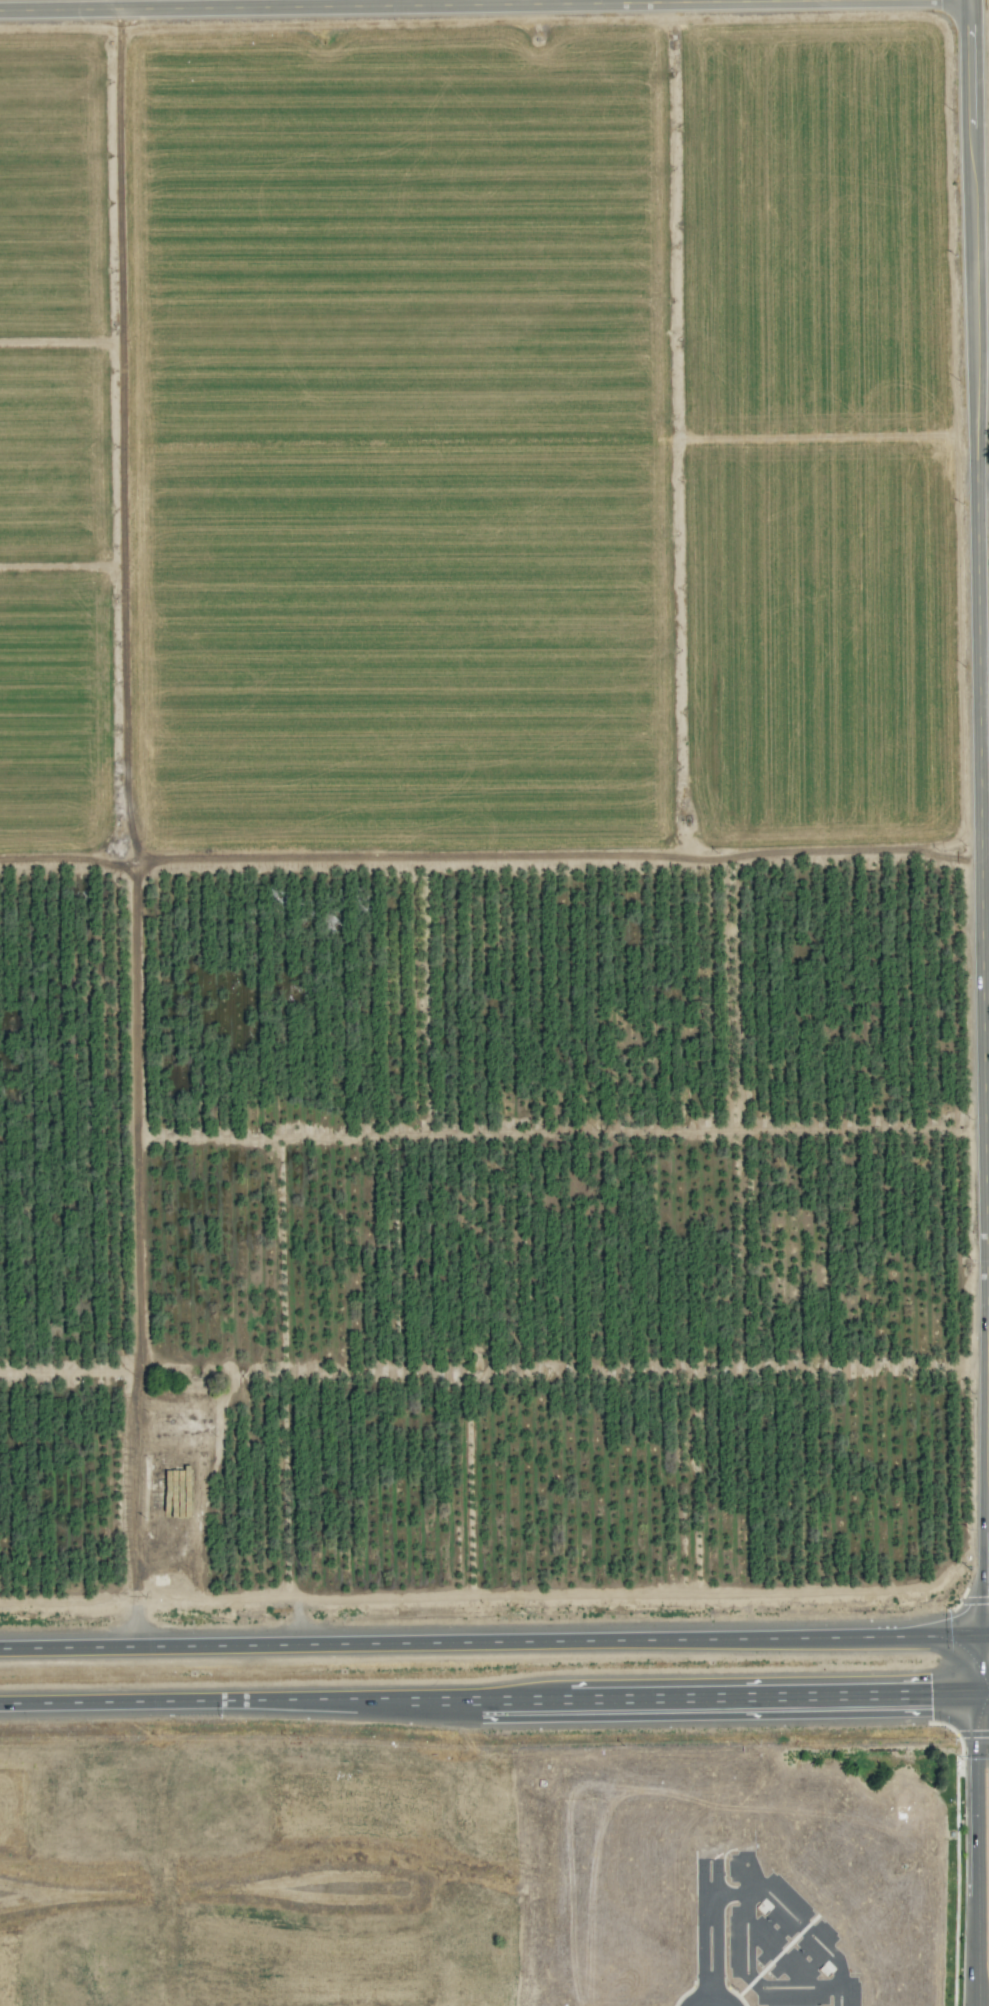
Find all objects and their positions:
road: (448, 5)
road: (985, 479)
road: (982, 520)
crop: (493, 806)
road: (988, 984)
road: (494, 1641)
road: (494, 1697)
crop: (268, 1875)
road: (793, 1917)
road: (717, 1951)
road: (701, 1952)
road: (710, 1994)

